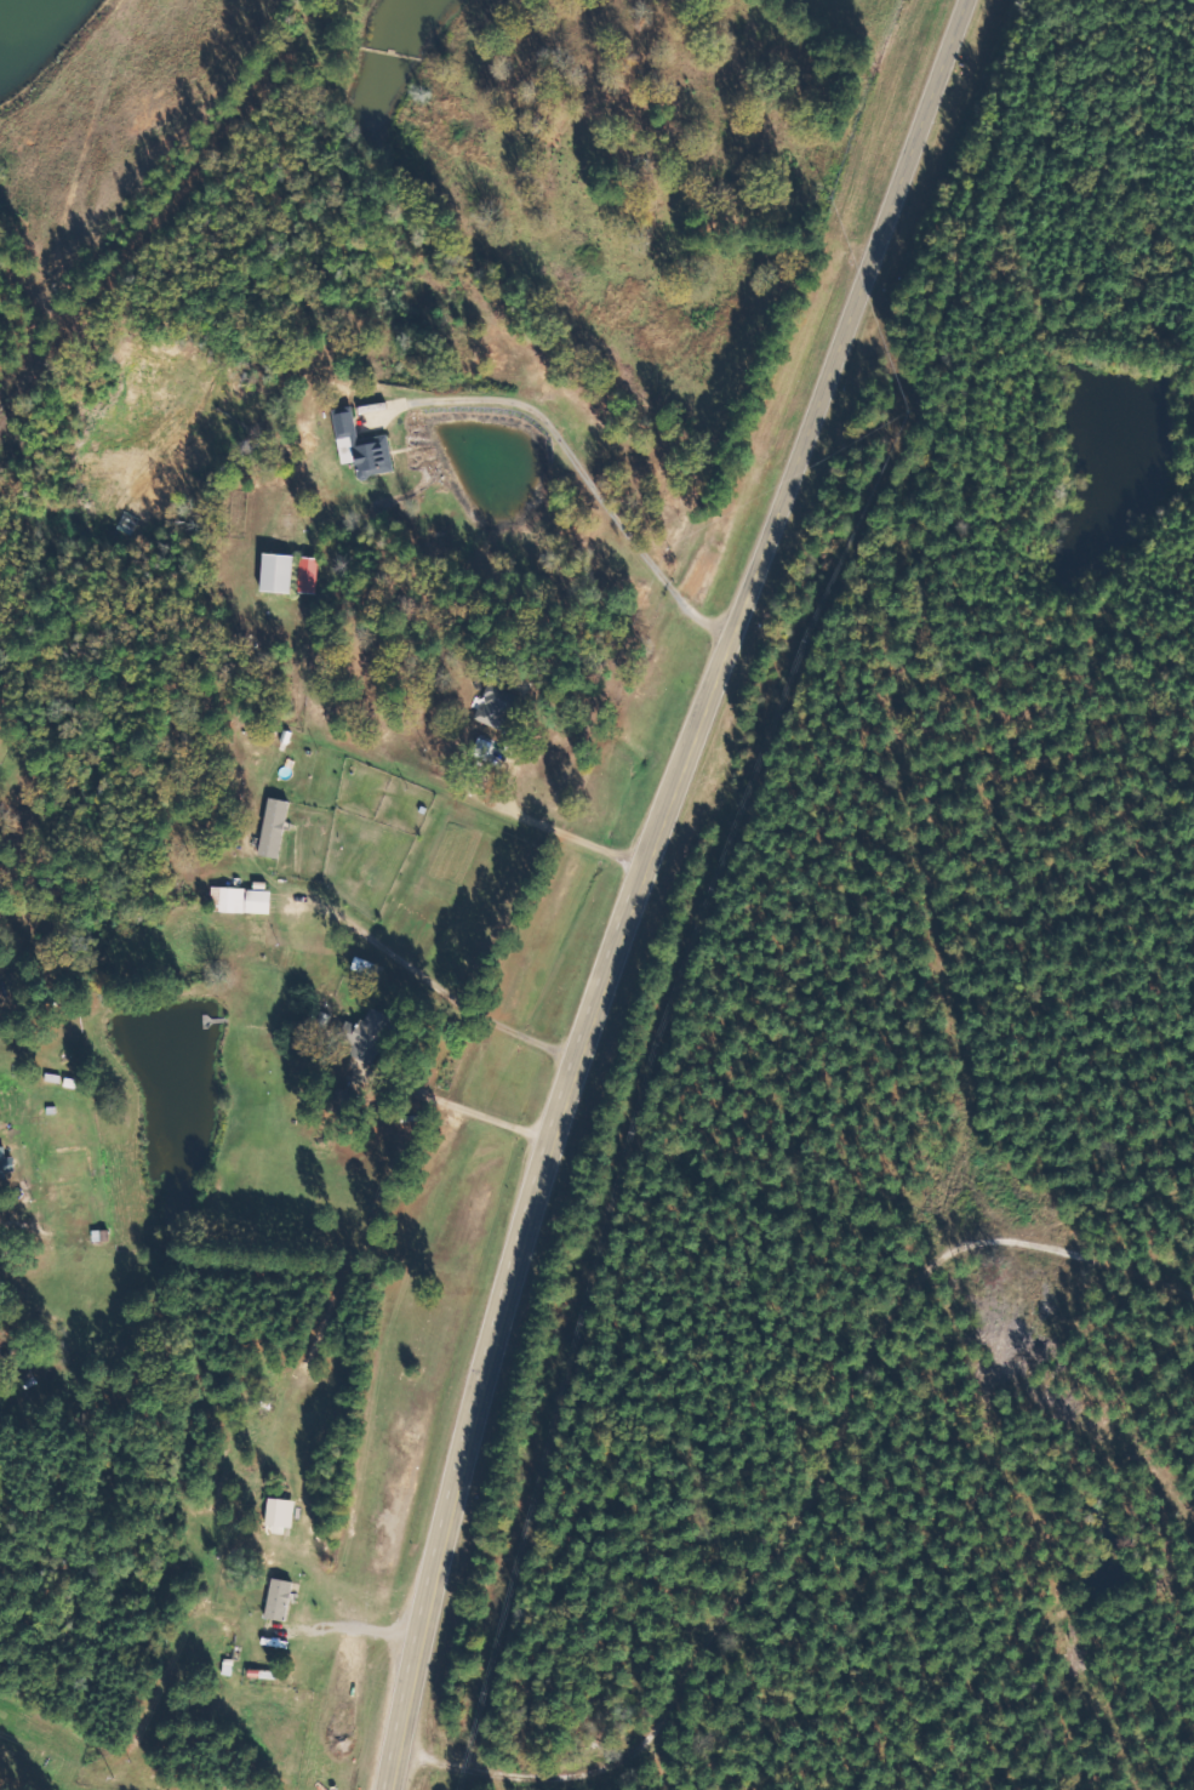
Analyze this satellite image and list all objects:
road: (47, 383)
building: (362, 446)
building: (290, 572)
building: (274, 827)
road: (638, 882)
building: (242, 900)
building: (367, 970)
building: (367, 1034)
building: (280, 1512)
road: (743, 1597)
building: (279, 1598)
road: (475, 1761)

